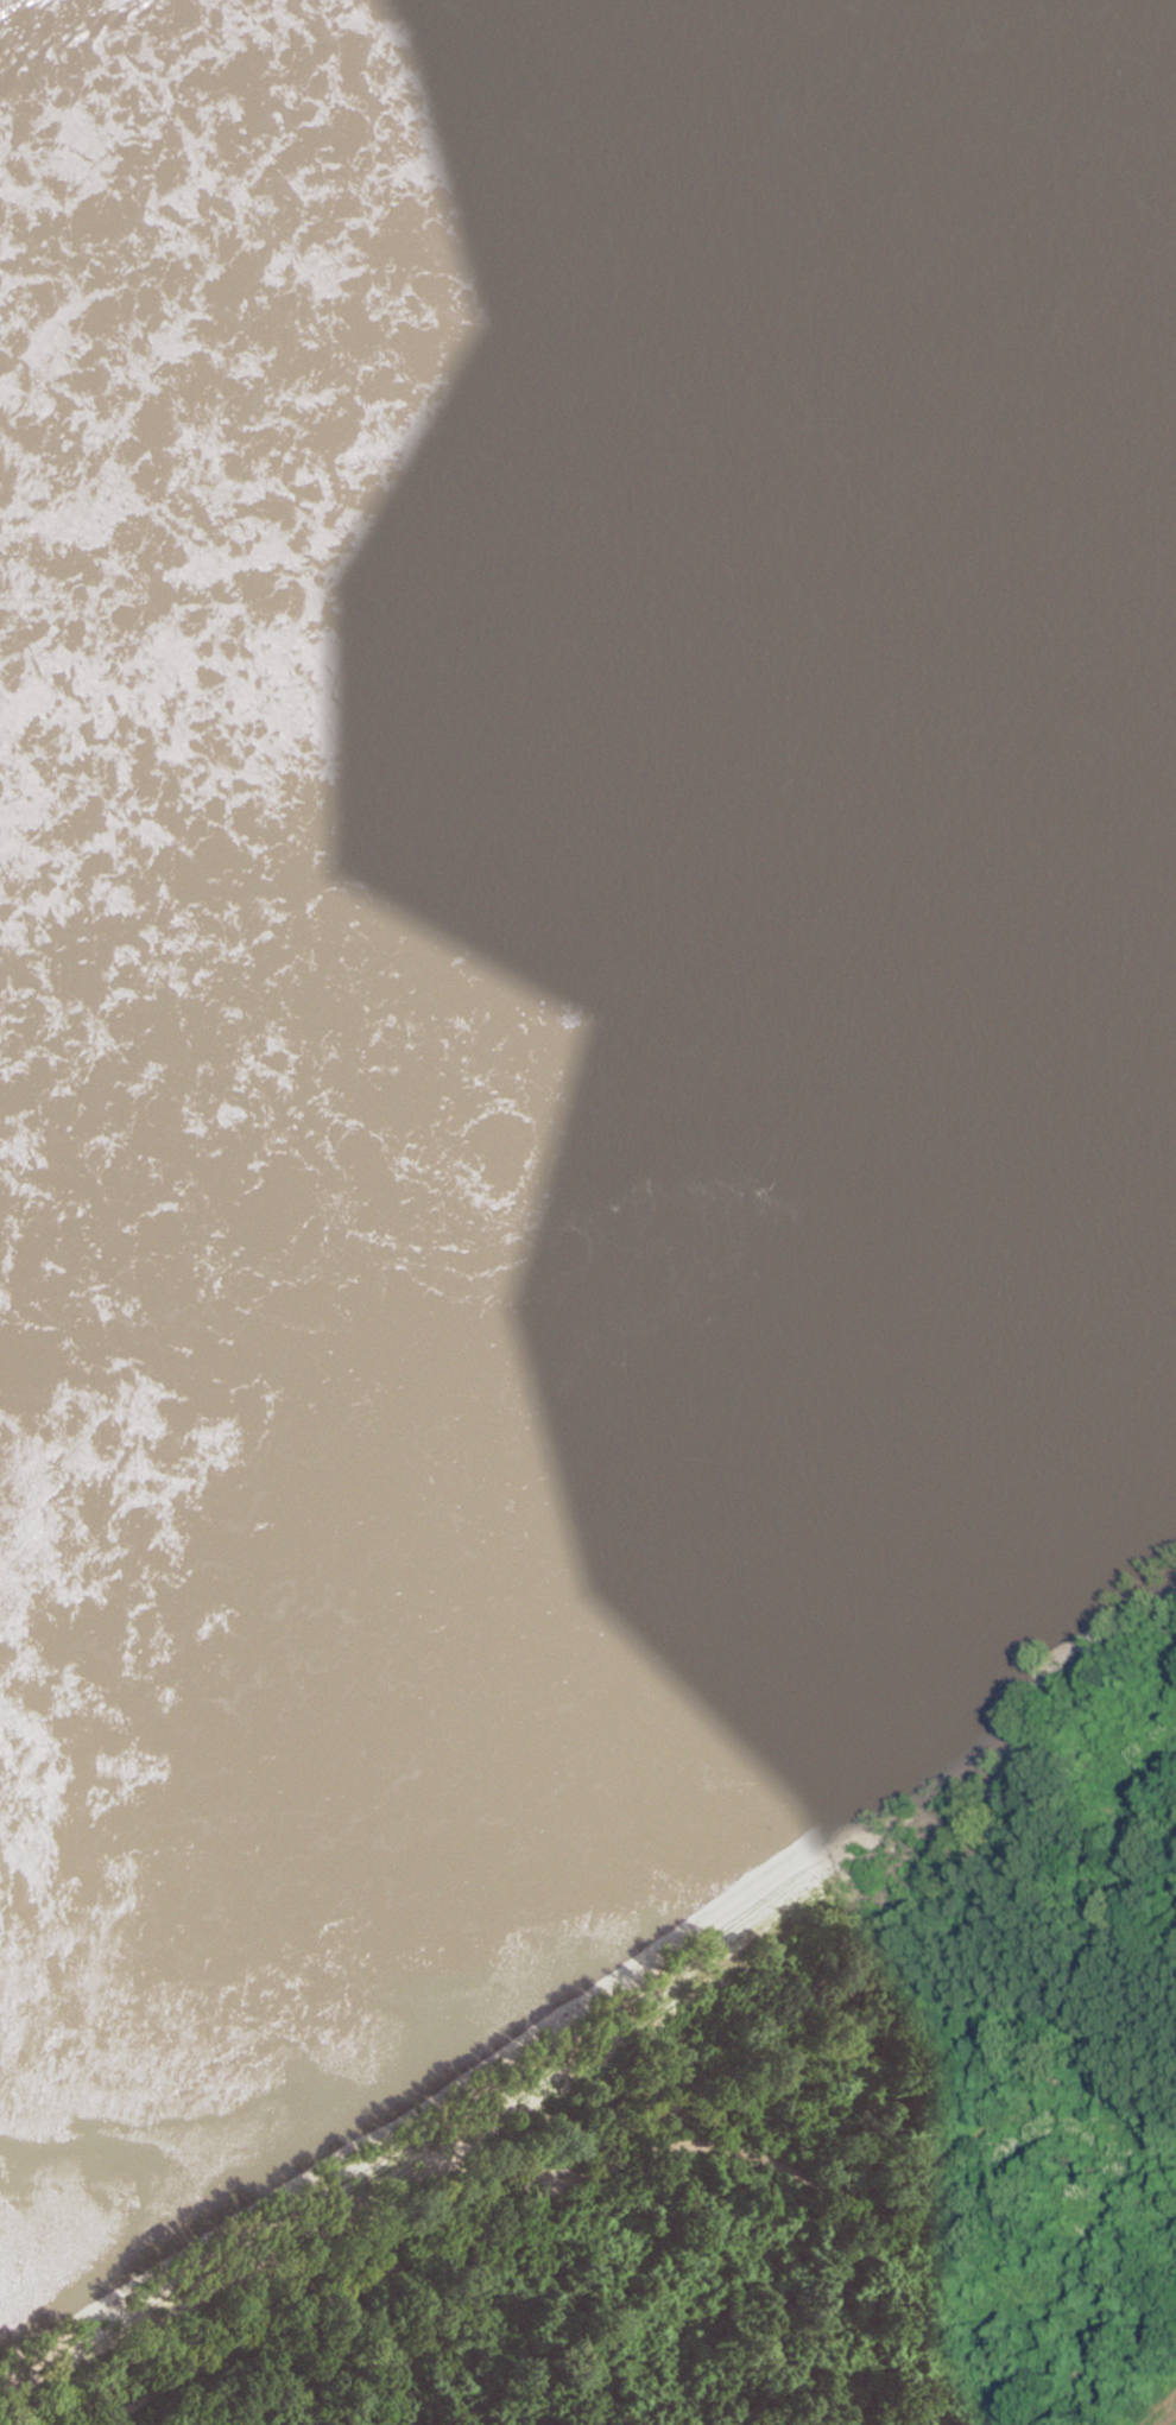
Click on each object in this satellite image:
river: (583, 342)

